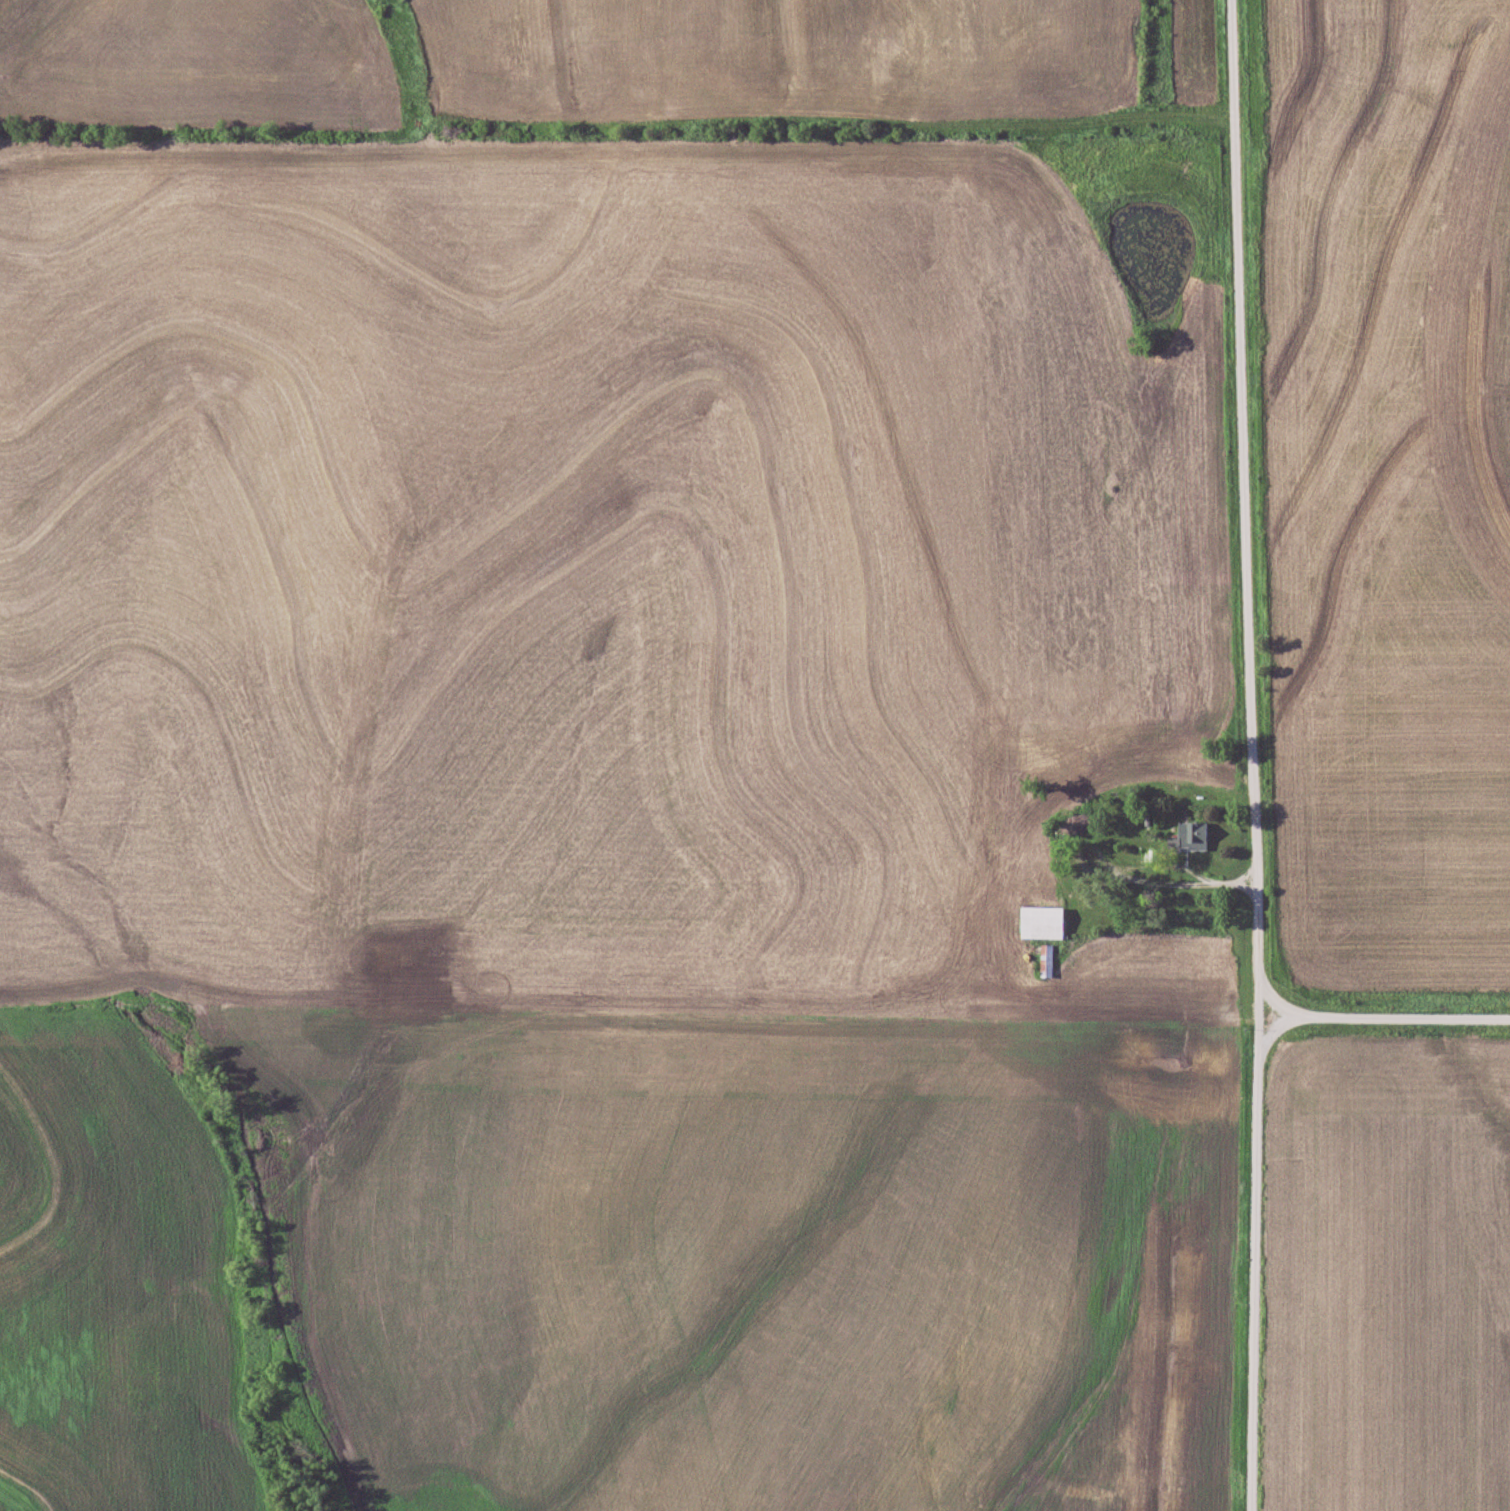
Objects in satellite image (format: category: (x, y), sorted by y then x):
road: (1251, 755)
building: (1163, 781)
building: (1073, 823)
building: (1190, 833)
road: (1173, 864)
road: (1231, 884)
building: (1038, 920)
building: (1043, 958)
road: (1382, 1018)

